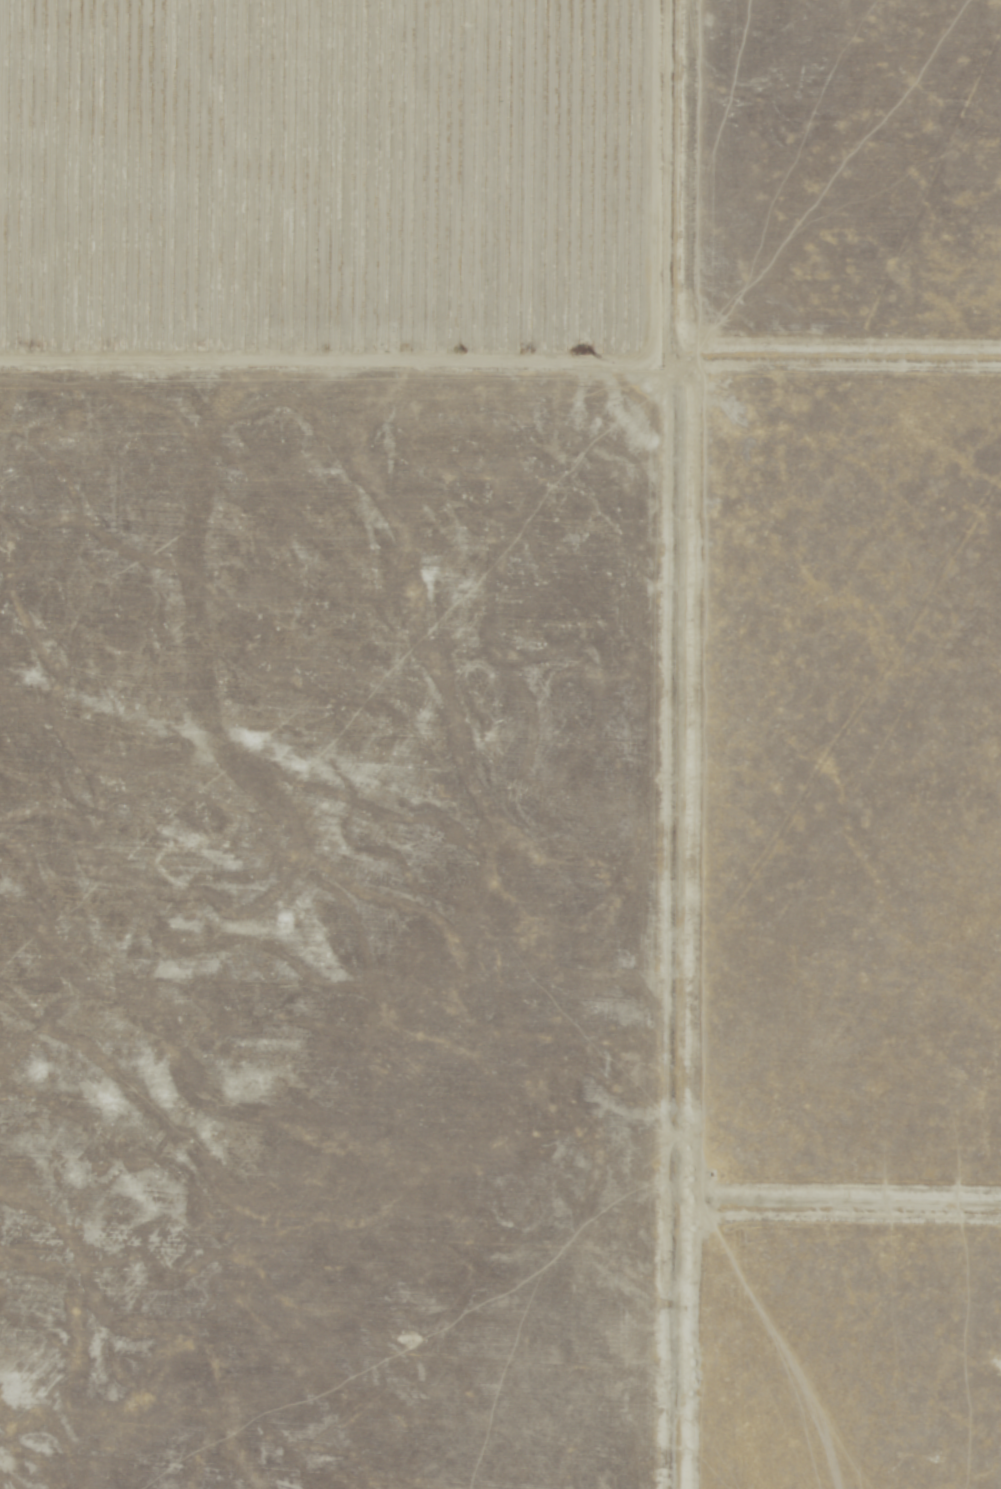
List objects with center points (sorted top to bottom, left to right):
crop: (500, 744)

